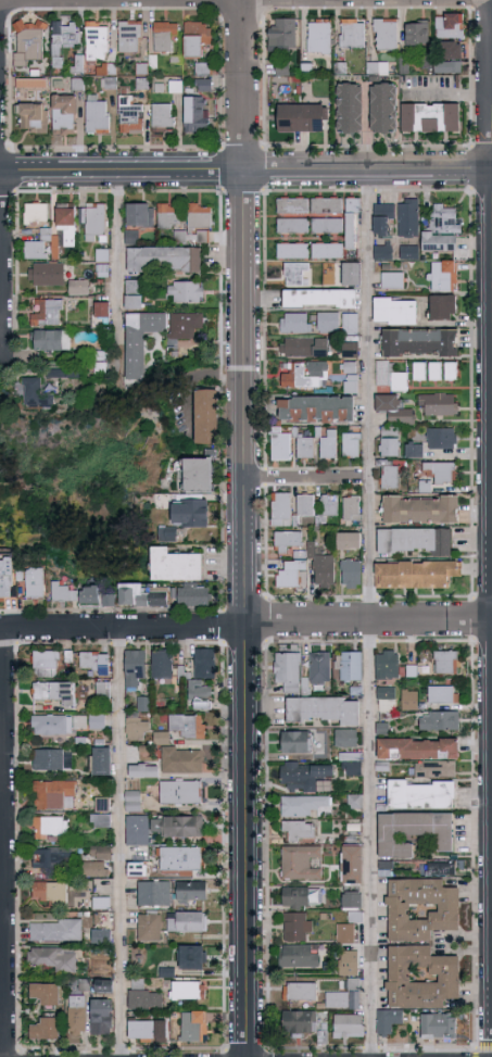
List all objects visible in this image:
road: (73, 2)
road: (184, 2)
building: (451, 26)
building: (388, 34)
building: (418, 34)
building: (353, 35)
building: (131, 36)
building: (166, 36)
building: (283, 36)
building: (321, 37)
building: (199, 40)
building: (64, 41)
building: (30, 42)
building: (98, 42)
building: (453, 51)
building: (178, 60)
building: (155, 62)
building: (428, 63)
building: (79, 65)
building: (405, 65)
building: (450, 67)
building: (341, 68)
building: (379, 68)
building: (109, 70)
building: (143, 70)
building: (205, 70)
building: (285, 70)
building: (308, 70)
building: (37, 73)
building: (295, 80)
building: (110, 84)
building: (143, 84)
building: (34, 85)
building: (79, 85)
building: (205, 85)
road: (244, 86)
building: (177, 87)
building: (162, 89)
building: (351, 110)
building: (384, 110)
building: (66, 114)
building: (198, 115)
building: (99, 116)
building: (133, 116)
building: (35, 117)
building: (164, 118)
building: (303, 118)
building: (432, 118)
road: (245, 173)
building: (292, 205)
building: (36, 213)
building: (140, 214)
building: (326, 215)
building: (64, 216)
building: (167, 216)
building: (408, 217)
building: (93, 219)
building: (199, 219)
building: (383, 221)
building: (352, 223)
building: (292, 225)
building: (442, 229)
building: (134, 235)
building: (45, 246)
building: (292, 250)
building: (327, 250)
building: (383, 251)
building: (408, 252)
building: (102, 255)
building: (164, 260)
road: (1, 262)
building: (104, 267)
road: (118, 269)
building: (46, 274)
building: (298, 274)
building: (351, 274)
building: (443, 276)
building: (392, 280)
building: (79, 287)
building: (186, 291)
building: (134, 294)
building: (319, 299)
building: (442, 307)
building: (102, 310)
building: (395, 311)
building: (48, 313)
building: (295, 323)
building: (327, 323)
building: (350, 323)
building: (186, 325)
building: (140, 339)
building: (51, 340)
building: (419, 342)
building: (305, 348)
building: (350, 350)
building: (100, 363)
building: (71, 372)
building: (427, 372)
building: (451, 372)
building: (305, 375)
building: (351, 377)
building: (391, 377)
building: (36, 393)
road: (373, 397)
building: (438, 404)
building: (316, 410)
building: (206, 416)
building: (392, 423)
building: (442, 438)
building: (328, 444)
building: (280, 445)
building: (351, 445)
building: (304, 448)
building: (414, 450)
building: (441, 470)
road: (311, 473)
building: (389, 474)
building: (199, 475)
building: (427, 485)
building: (305, 505)
building: (329, 505)
building: (351, 508)
building: (280, 509)
building: (420, 509)
building: (189, 515)
building: (171, 532)
building: (348, 540)
building: (415, 541)
building: (299, 556)
building: (175, 565)
building: (324, 570)
building: (351, 572)
building: (25, 574)
building: (416, 574)
building: (7, 577)
building: (35, 582)
building: (76, 593)
building: (143, 594)
building: (100, 595)
building: (191, 595)
road: (248, 614)
road: (369, 621)
road: (125, 625)
road: (1, 628)
building: (96, 662)
building: (445, 662)
building: (48, 663)
building: (162, 665)
building: (388, 665)
building: (134, 666)
building: (349, 666)
building: (320, 667)
building: (288, 671)
building: (412, 671)
building: (202, 678)
building: (102, 690)
building: (54, 694)
building: (443, 694)
building: (387, 699)
building: (409, 701)
building: (143, 704)
building: (325, 709)
building: (439, 720)
building: (97, 722)
building: (59, 723)
building: (187, 726)
building: (138, 728)
building: (164, 737)
building: (345, 739)
building: (295, 741)
building: (417, 747)
building: (49, 759)
building: (182, 759)
building: (102, 762)
building: (352, 765)
building: (433, 769)
building: (143, 770)
building: (303, 776)
building: (180, 792)
building: (53, 793)
building: (420, 794)
building: (133, 800)
building: (354, 801)
building: (102, 804)
building: (306, 806)
building: (102, 818)
building: (176, 827)
building: (50, 828)
building: (137, 830)
building: (299, 830)
building: (413, 832)
road: (375, 839)
road: (123, 841)
road: (2, 842)
building: (101, 852)
building: (52, 857)
building: (180, 859)
building: (301, 863)
building: (352, 865)
building: (441, 868)
building: (96, 869)
building: (137, 869)
building: (49, 892)
building: (191, 892)
building: (153, 893)
building: (302, 896)
building: (101, 903)
building: (353, 905)
building: (450, 908)
building: (187, 922)
building: (150, 927)
building: (297, 927)
building: (55, 930)
building: (345, 933)
building: (101, 935)
building: (300, 956)
building: (192, 957)
building: (52, 958)
building: (349, 962)
building: (105, 970)
building: (169, 971)
building: (450, 978)
building: (103, 989)
building: (187, 990)
building: (301, 991)
building: (46, 993)
building: (144, 999)
building: (338, 999)
building: (77, 1015)
building: (101, 1017)
building: (389, 1020)
building: (299, 1023)
building: (349, 1025)
building: (438, 1025)
building: (194, 1027)
building: (45, 1028)
building: (147, 1031)

